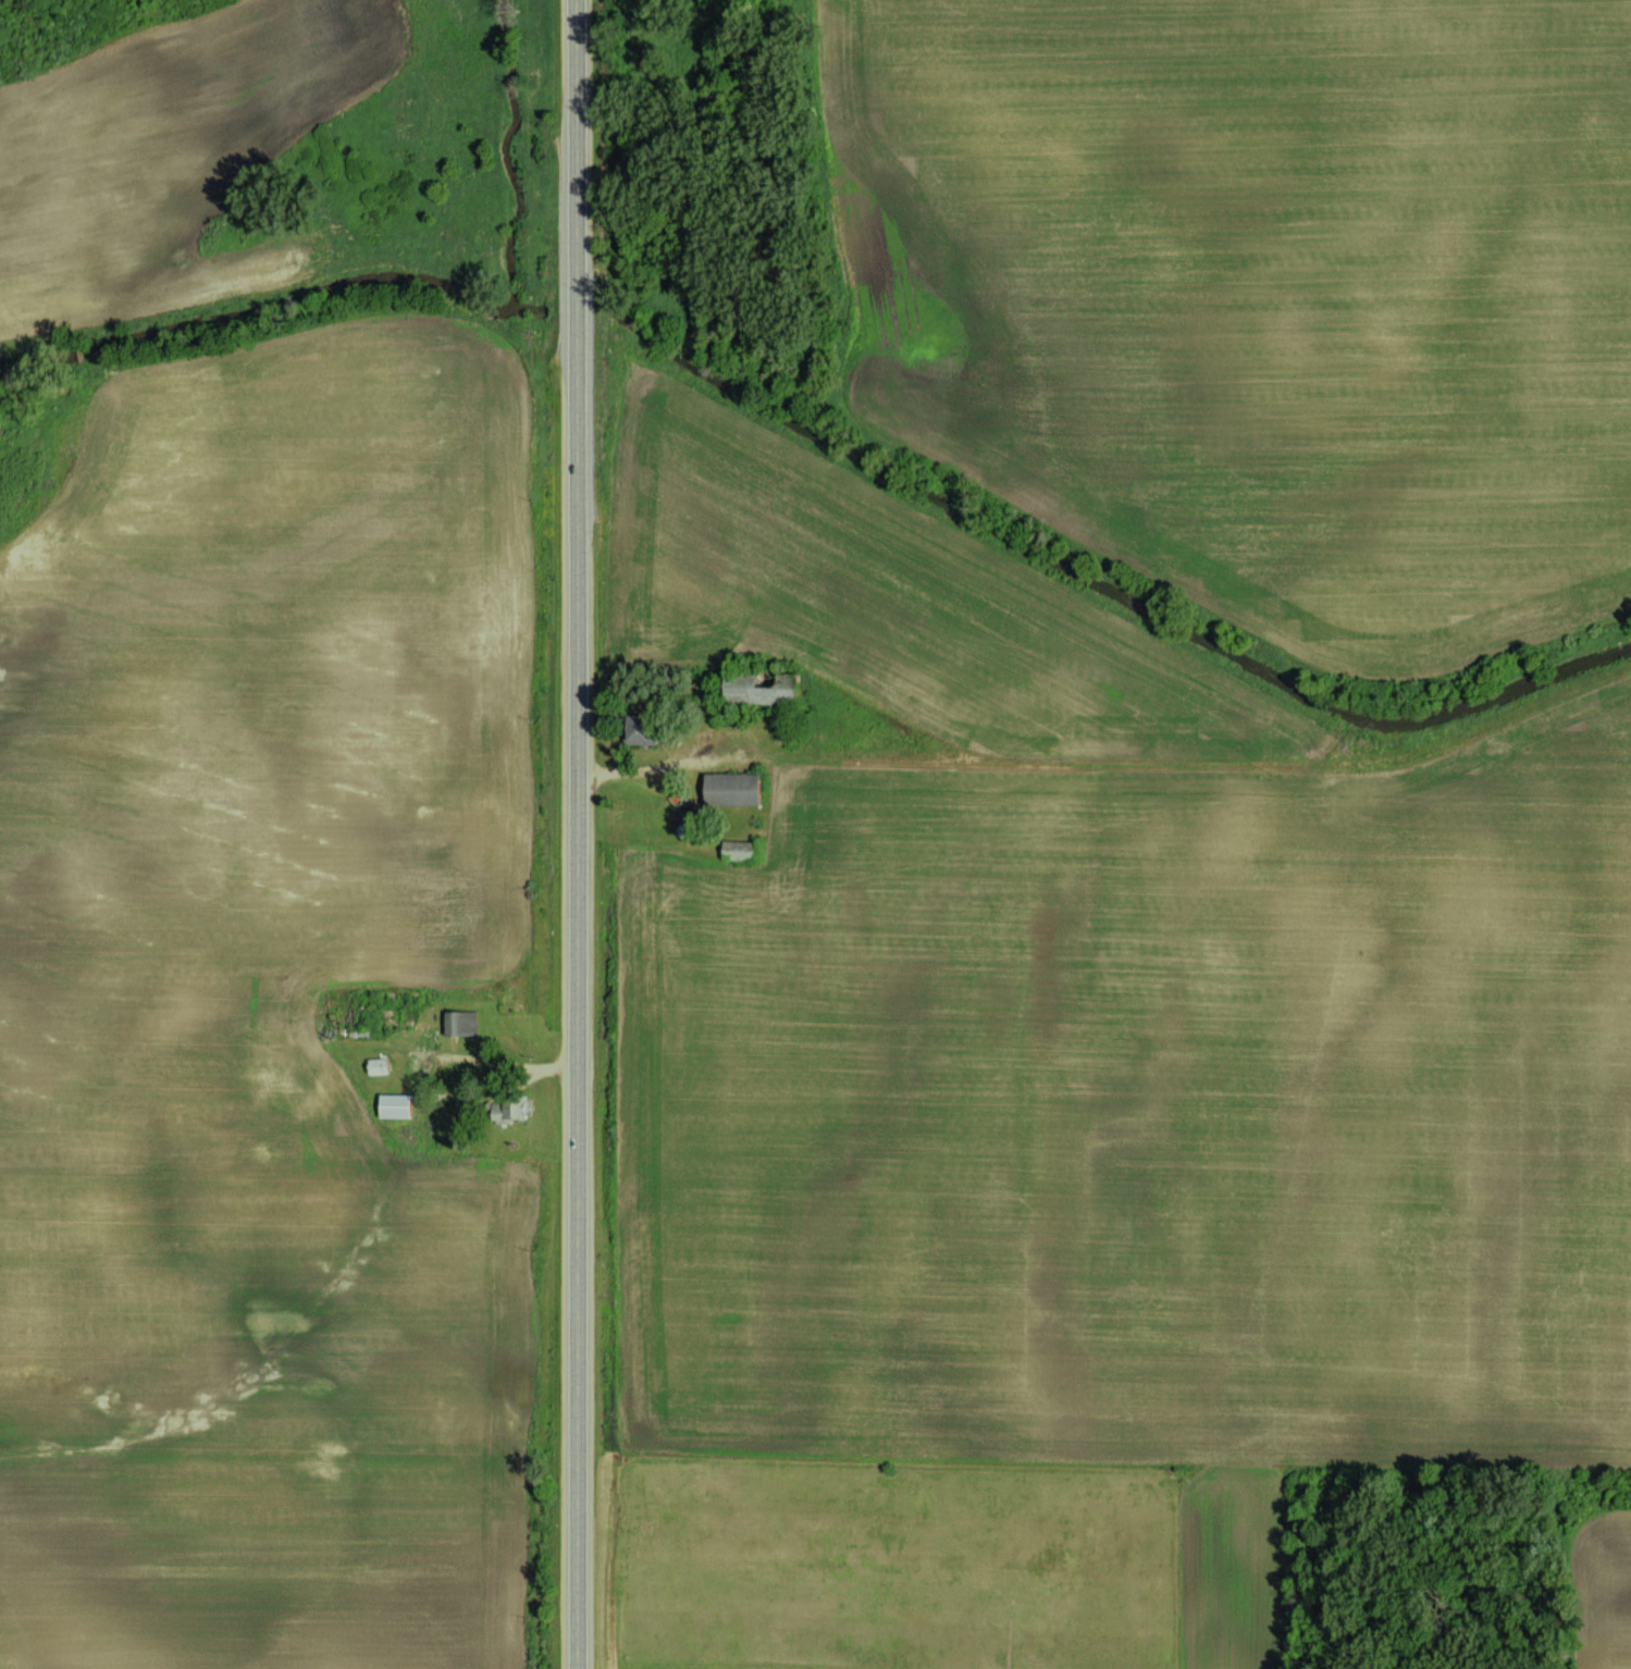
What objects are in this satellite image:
building: (642, 730)
building: (737, 790)
road: (576, 833)
building: (741, 851)
building: (456, 1024)
building: (381, 1066)
building: (398, 1108)

